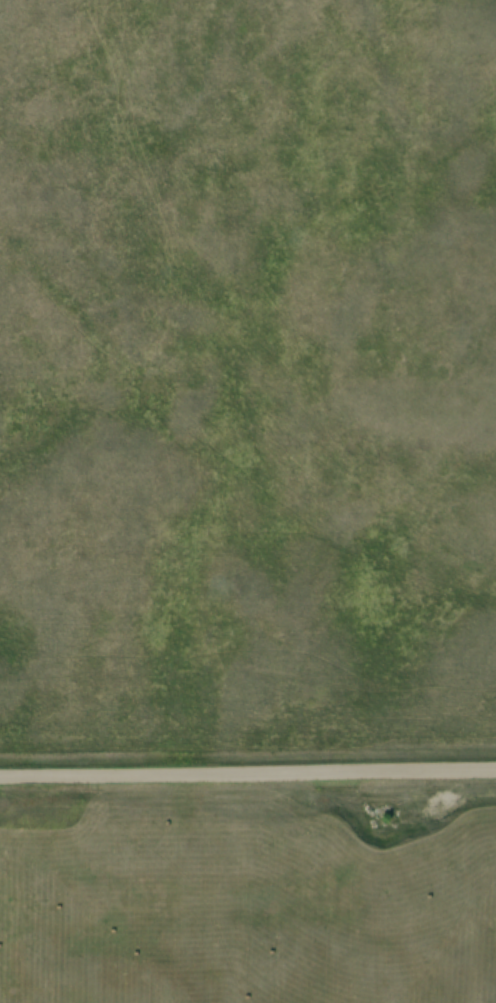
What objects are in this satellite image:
road: (248, 775)

